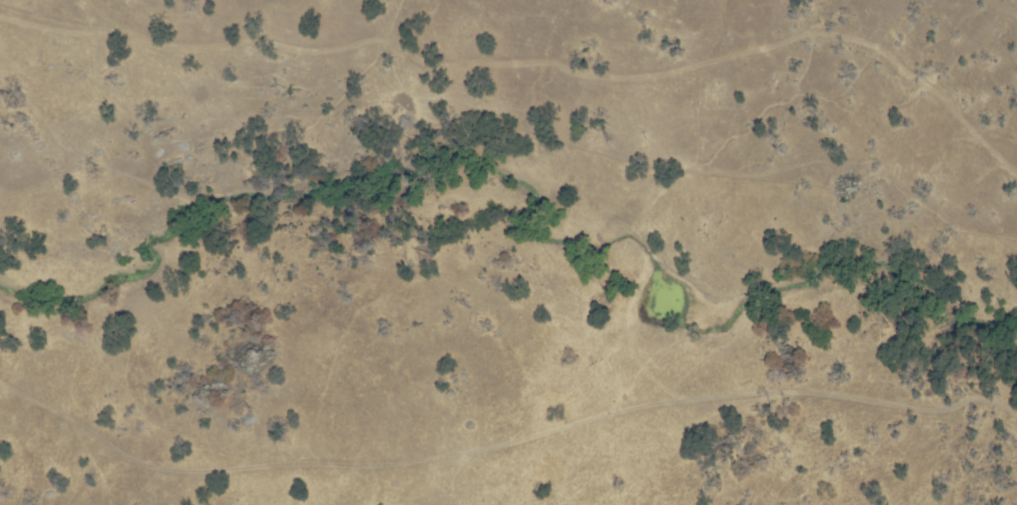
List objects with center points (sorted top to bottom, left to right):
road: (537, 60)
road: (508, 437)

